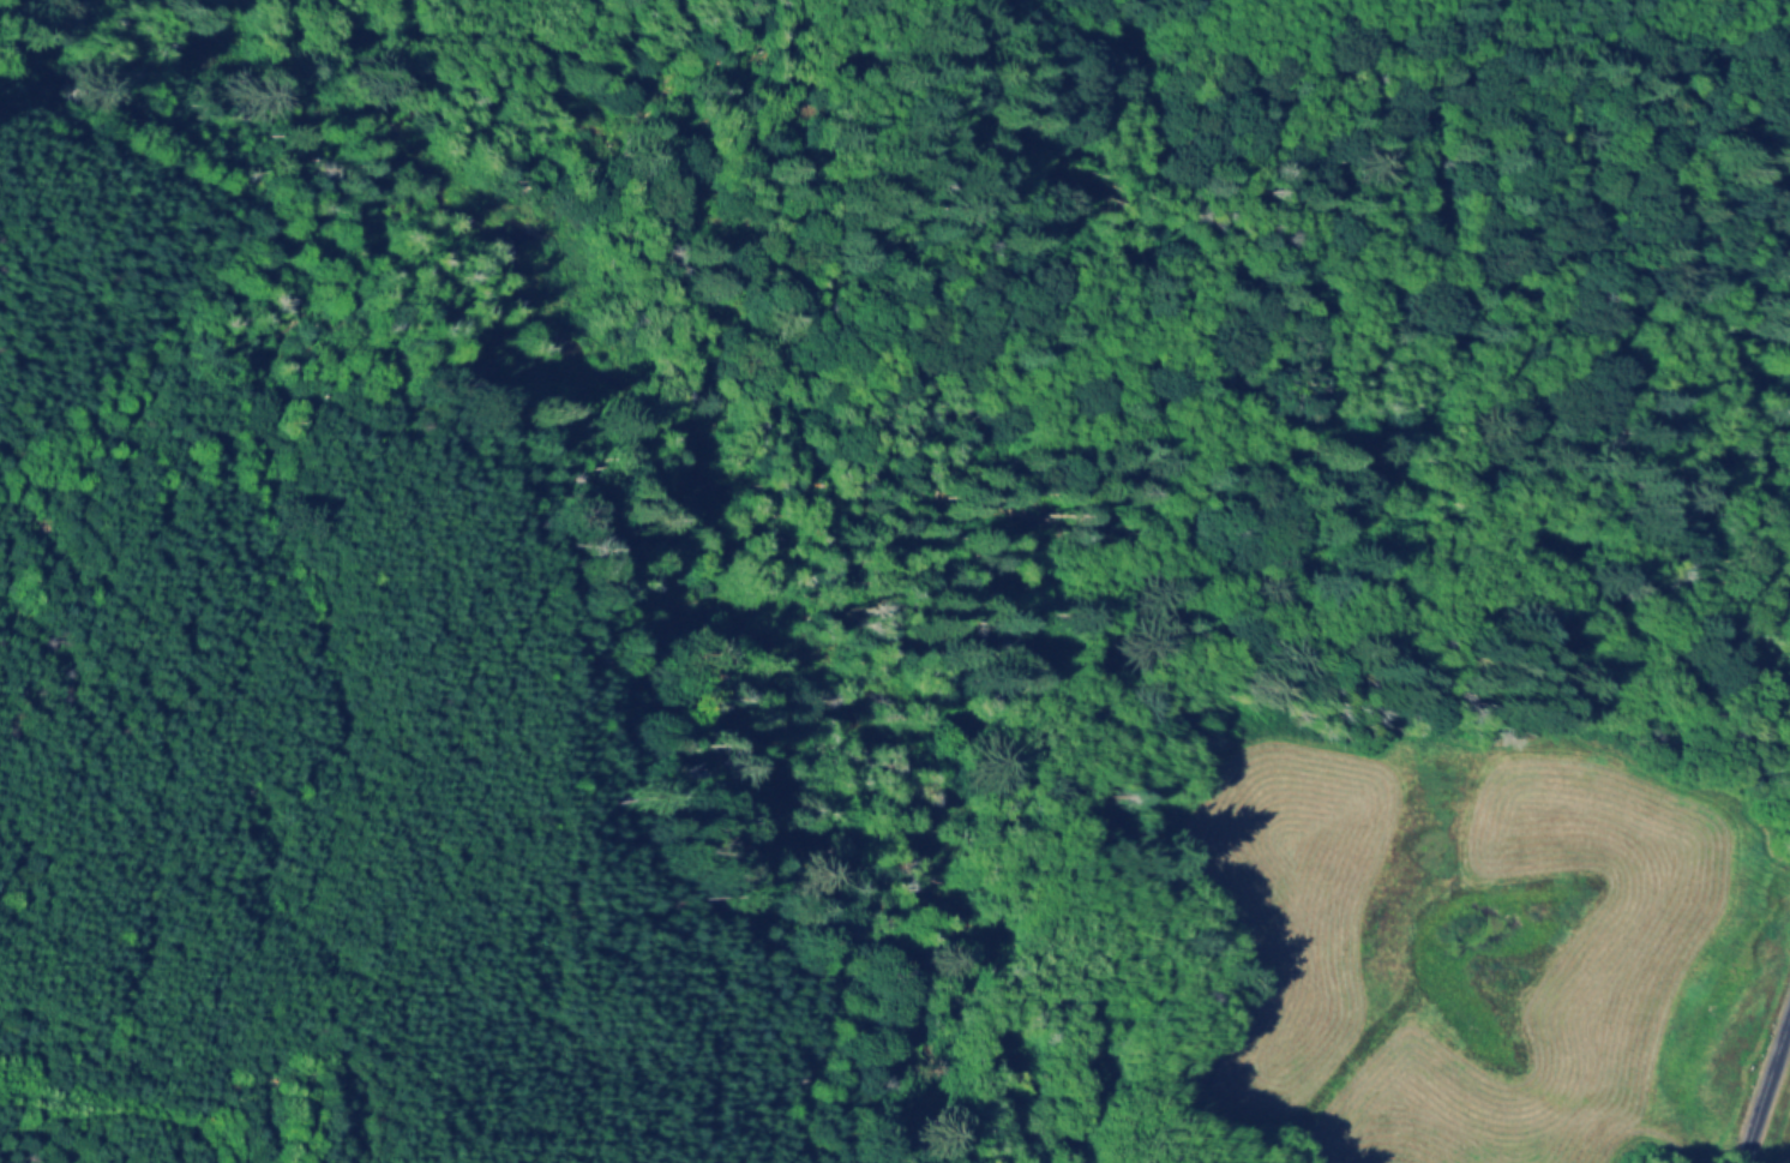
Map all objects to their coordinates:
road: (1765, 1089)

